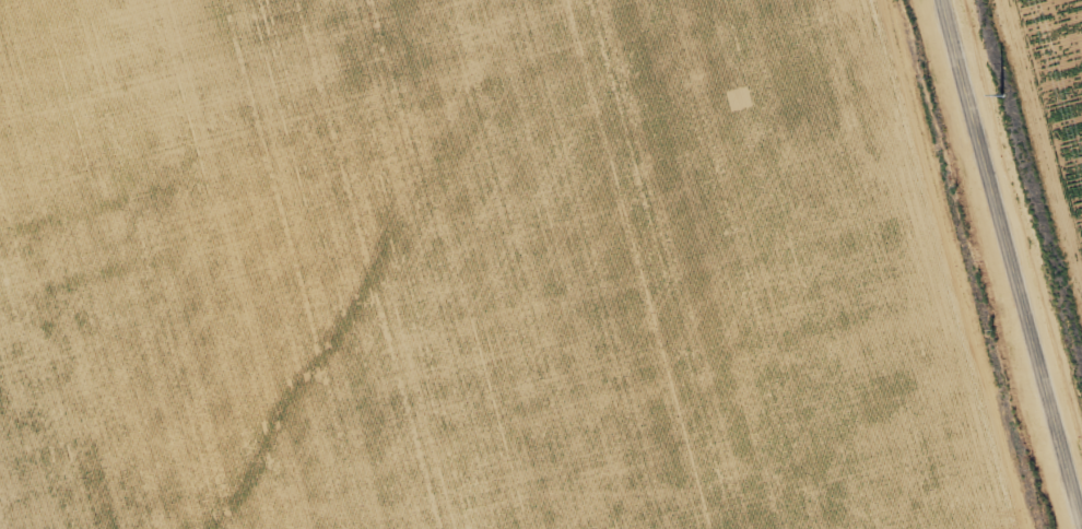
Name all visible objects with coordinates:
power tower: (993, 73)
road: (1013, 255)

